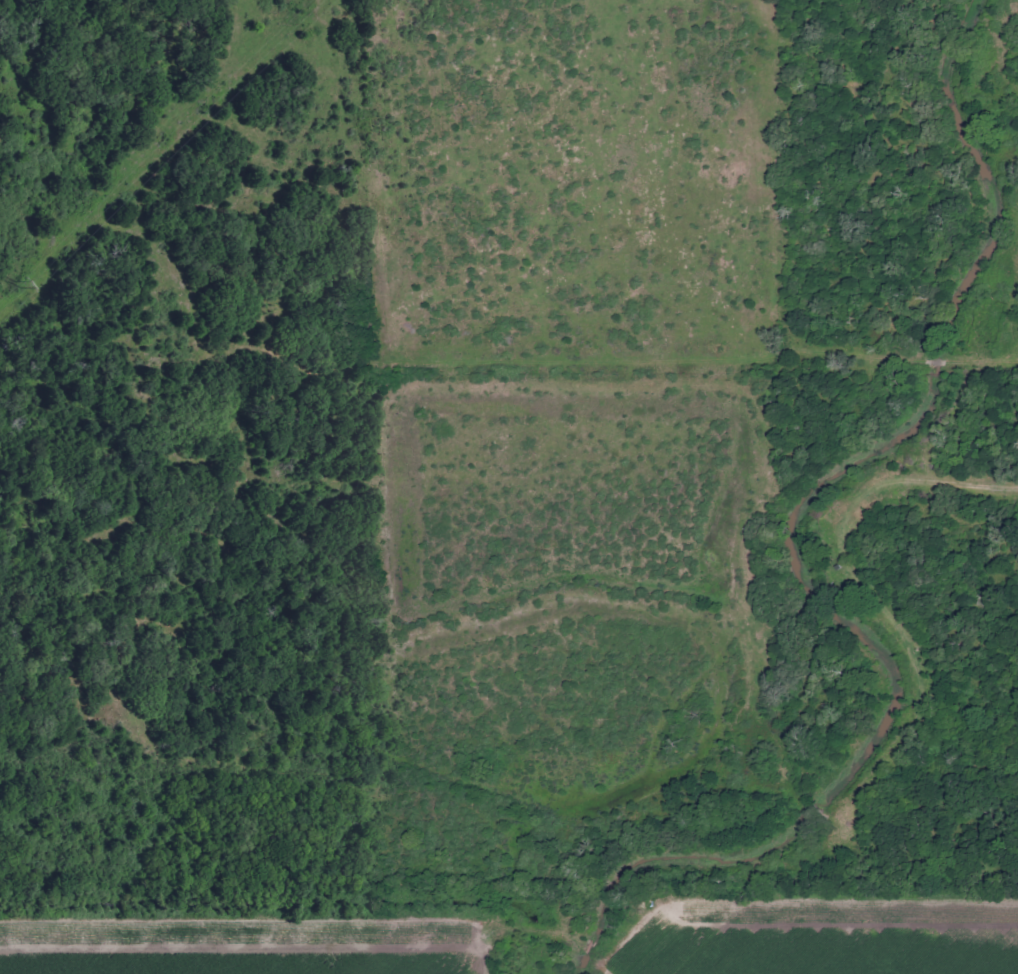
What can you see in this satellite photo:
power tower: (34, 302)

